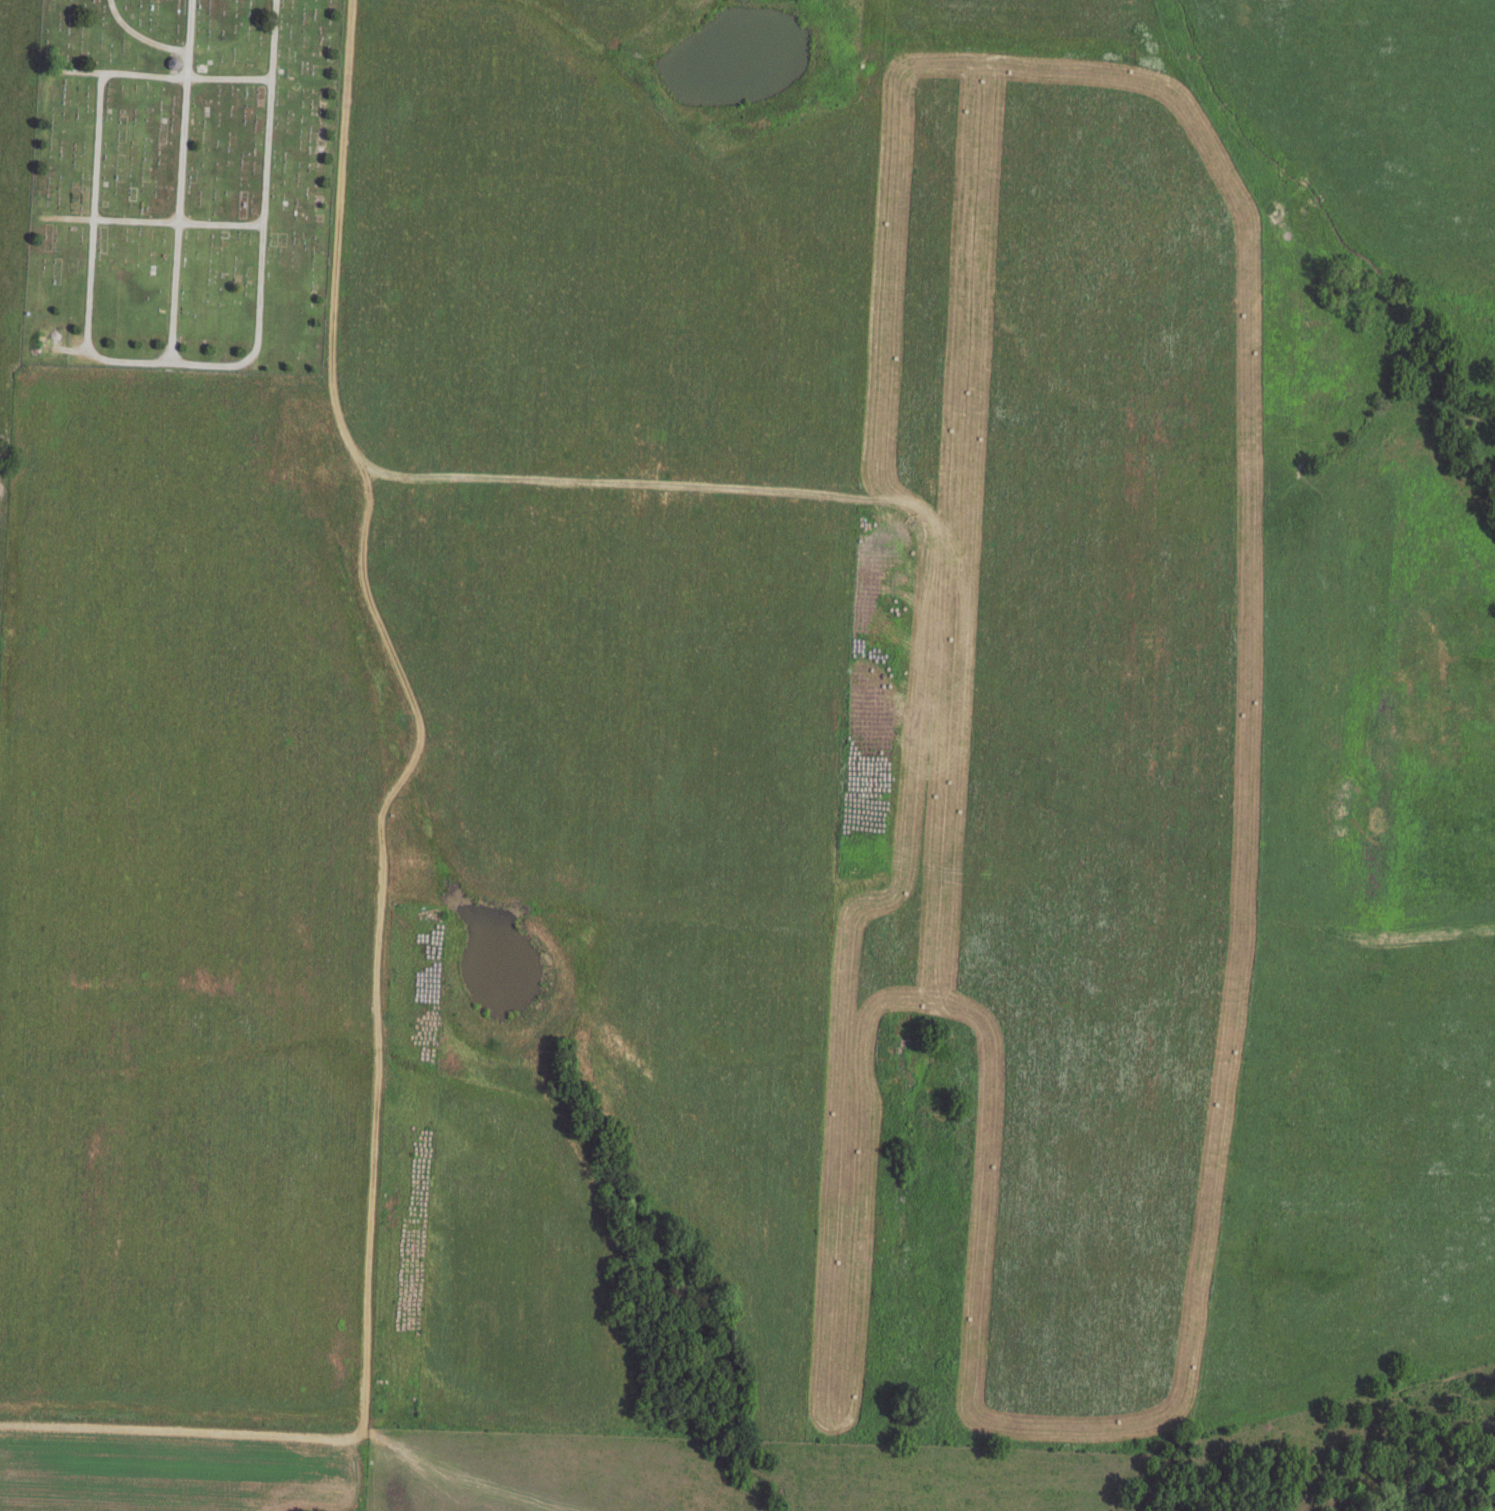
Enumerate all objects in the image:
road: (139, 39)
road: (170, 77)
road: (179, 181)
park: (178, 183)
road: (149, 219)
road: (210, 364)
road: (386, 884)

